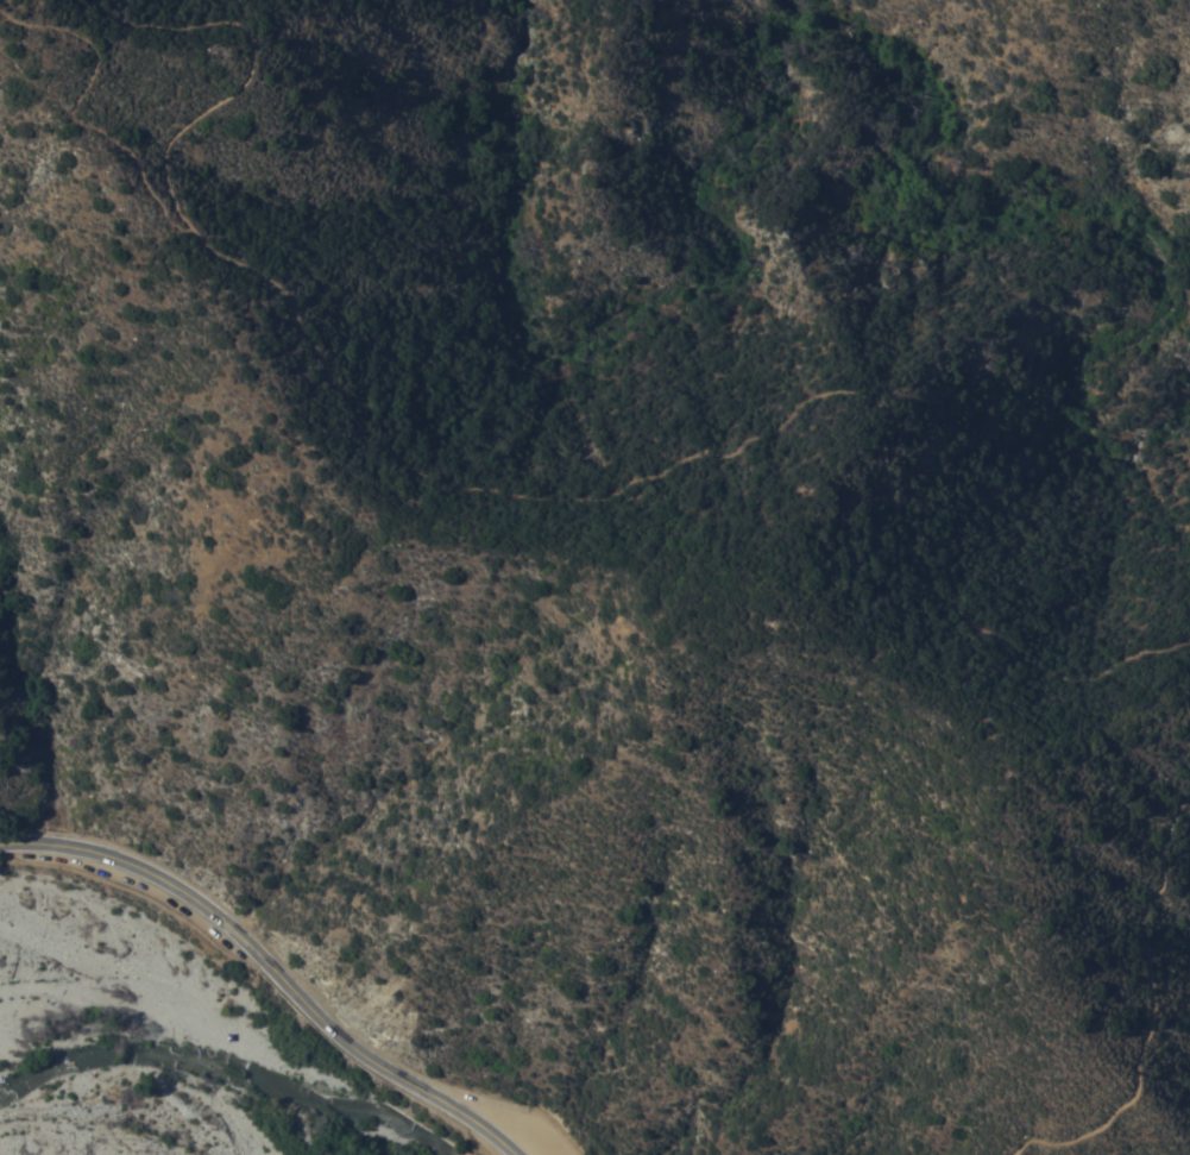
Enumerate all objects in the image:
road: (74, 113)
road: (541, 504)
road: (282, 950)
road: (1151, 1017)
river: (200, 1071)

